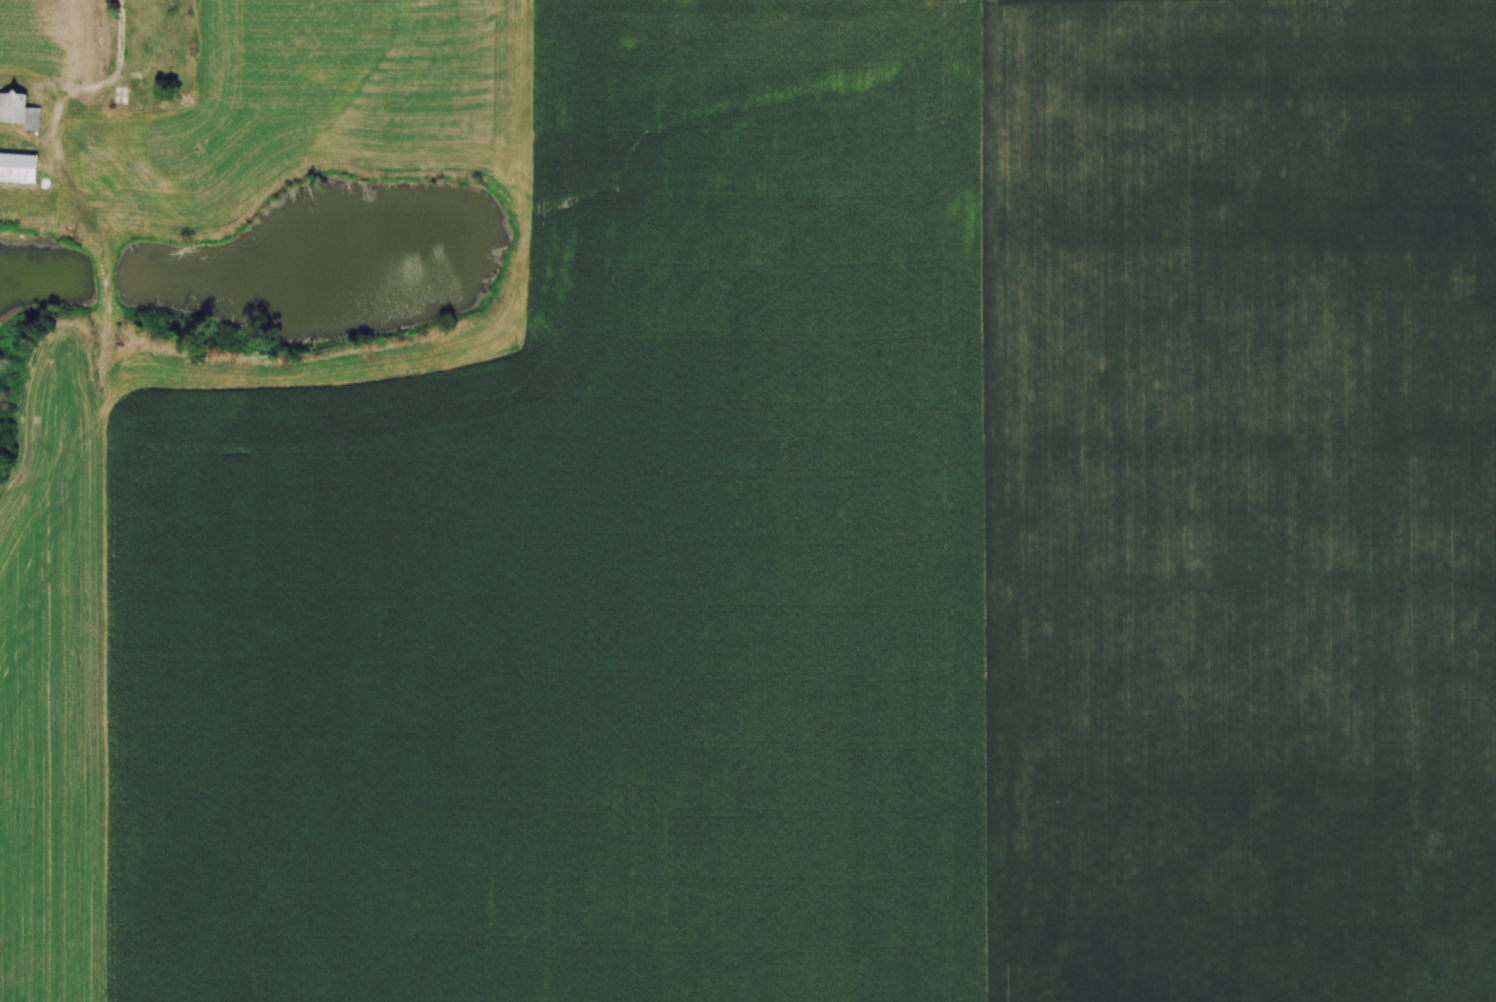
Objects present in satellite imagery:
road: (103, 83)
building: (16, 167)

